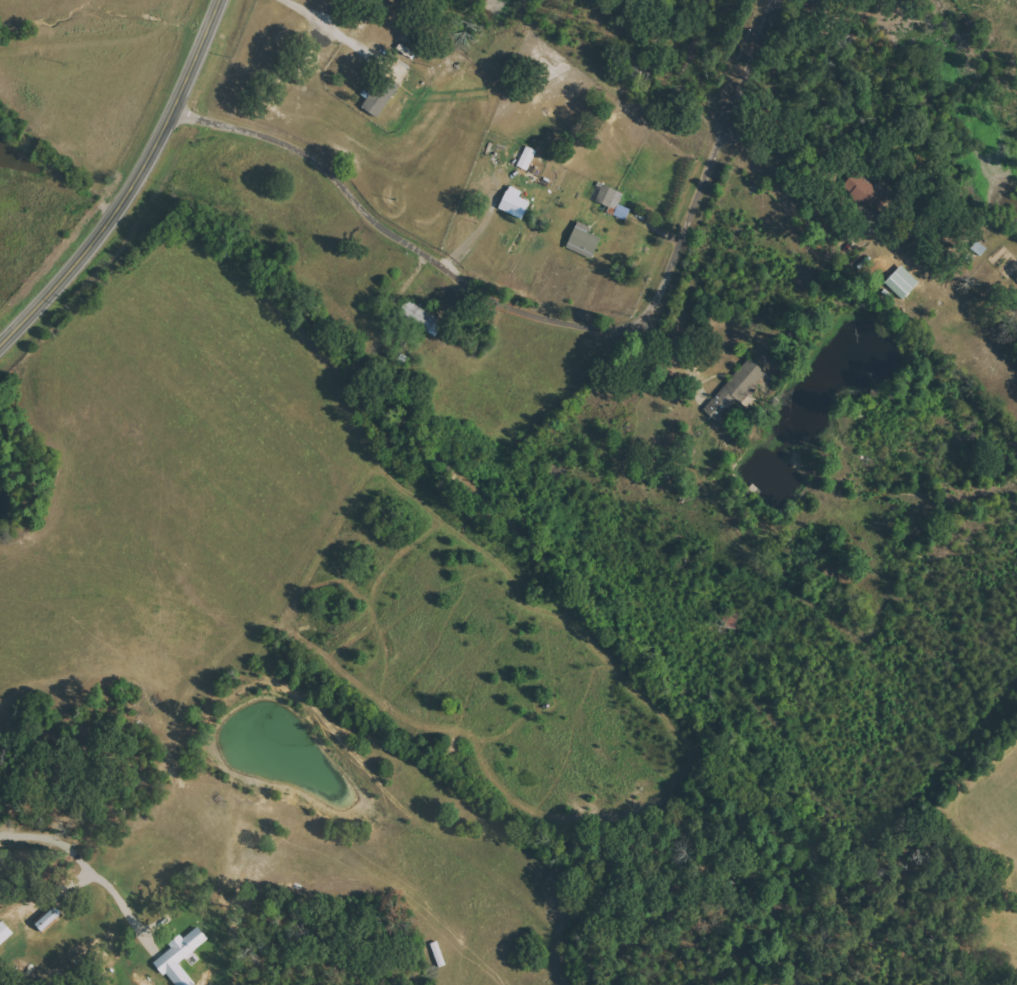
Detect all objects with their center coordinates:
road: (827, 12)
road: (305, 13)
building: (383, 91)
building: (527, 158)
road: (793, 176)
building: (860, 187)
road: (138, 188)
building: (613, 201)
building: (514, 205)
road: (664, 229)
building: (583, 240)
building: (901, 282)
road: (571, 304)
building: (418, 315)
building: (734, 391)
road: (82, 860)
building: (48, 920)
building: (4, 933)
building: (180, 957)

